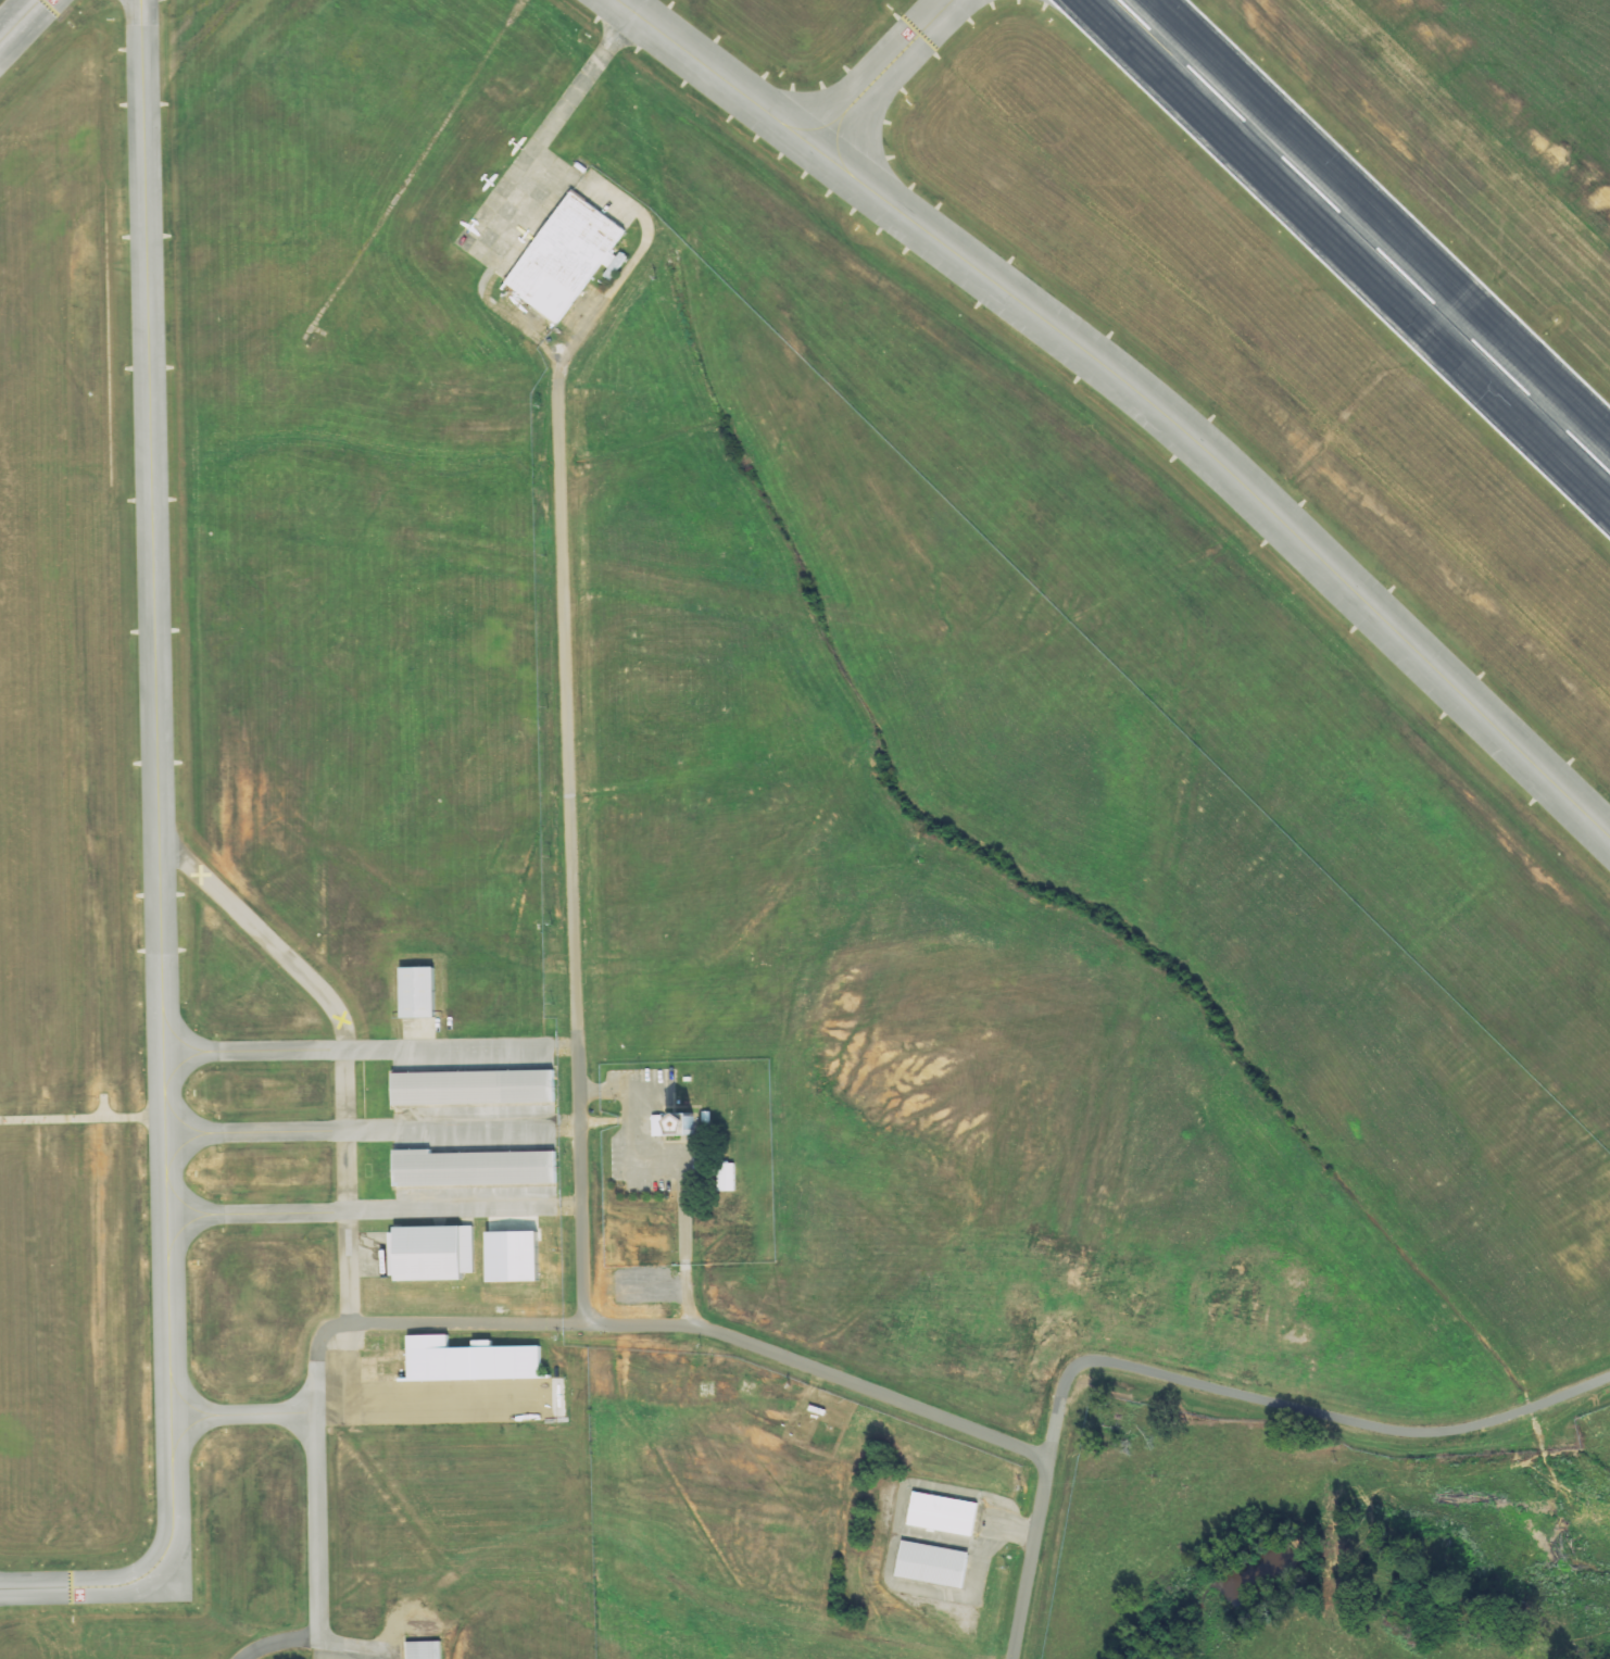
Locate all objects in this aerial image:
airport taxiway: (18, 20)
airport taxiway: (883, 73)
airport taxiway: (586, 77)
airport apron: (518, 210)
airport runway: (1360, 238)
airport hangar: (568, 257)
building: (568, 257)
building: (616, 266)
road: (620, 278)
airport taxiway: (1136, 391)
airport: (777, 791)
road: (571, 858)
airport taxiway: (160, 866)
building: (415, 991)
road: (563, 1047)
airport taxiway: (355, 1050)
airport hangar: (474, 1086)
building: (474, 1086)
road: (608, 1122)
building: (683, 1124)
road: (565, 1129)
airport taxiway: (359, 1131)
parking lot: (630, 1133)
road: (679, 1167)
airport hangar: (473, 1168)
building: (473, 1168)
building: (727, 1177)
airport taxiway: (347, 1187)
road: (567, 1205)
airport taxiway: (360, 1210)
airport hangar: (427, 1252)
building: (427, 1252)
airport apron: (376, 1254)
building: (510, 1256)
road: (466, 1325)
airport taxiway: (315, 1358)
airport hangar: (468, 1359)
building: (468, 1359)
road: (820, 1370)
airport apron: (429, 1397)
road: (1298, 1410)
airport taxiway: (242, 1415)
building: (941, 1513)
airport taxiway: (316, 1526)
road: (1031, 1558)
building: (931, 1564)
airport hangar: (424, 1650)
building: (424, 1650)

